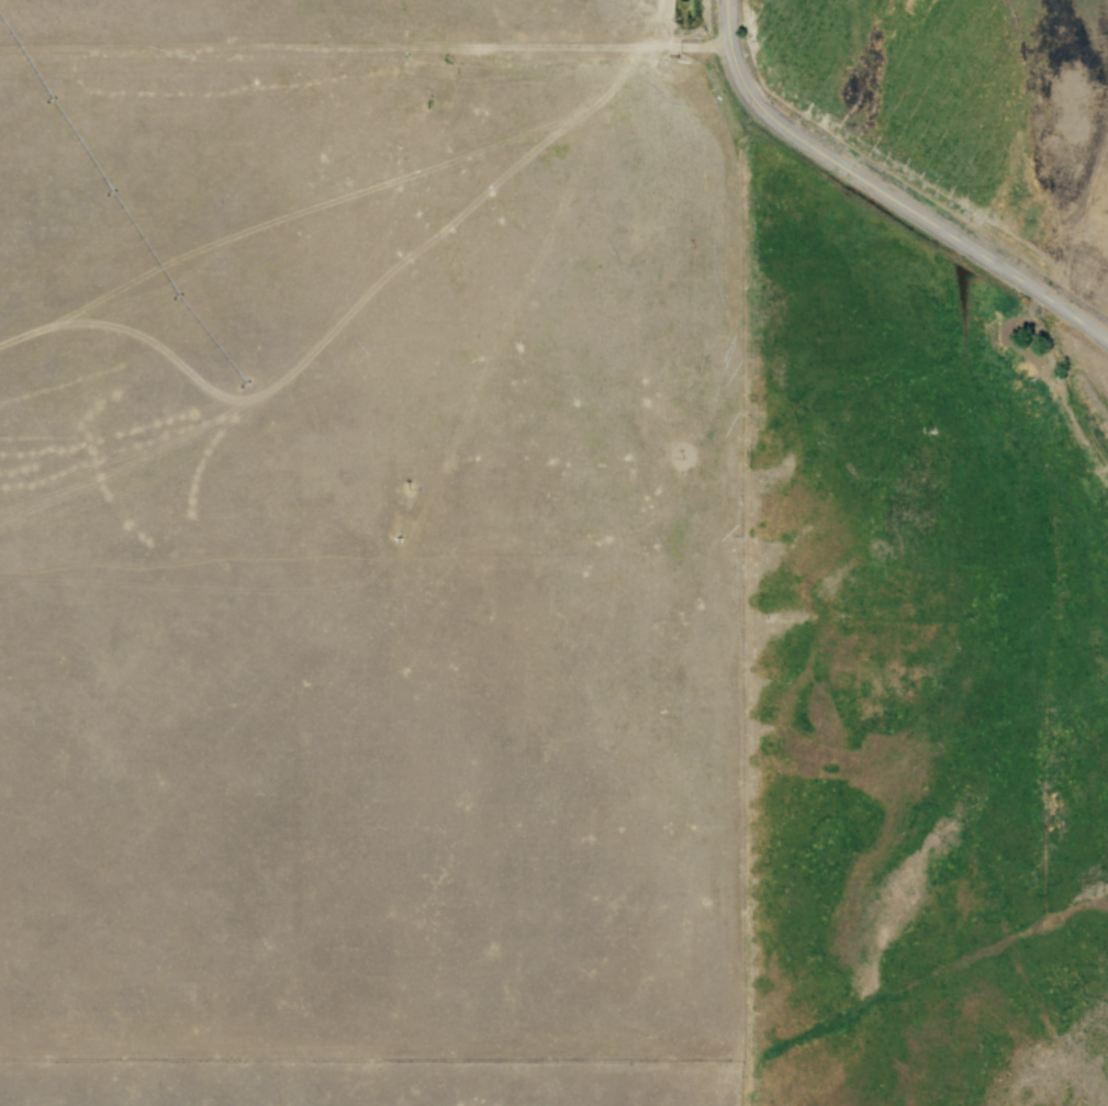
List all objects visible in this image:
road: (362, 51)
road: (881, 199)

